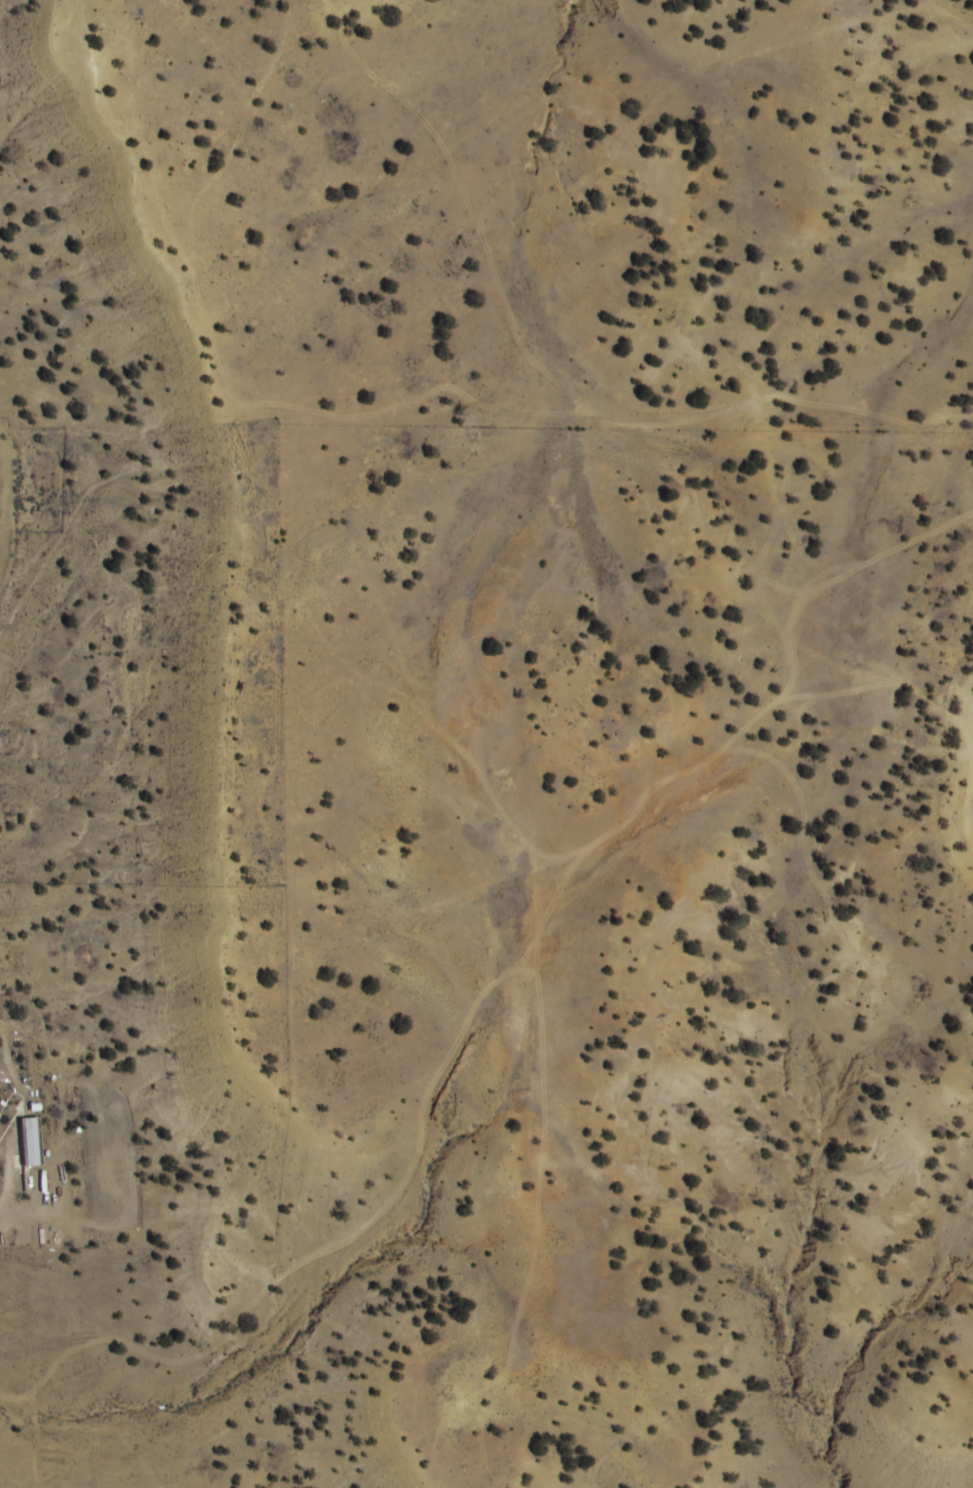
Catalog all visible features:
road: (470, 213)
building: (30, 1142)

